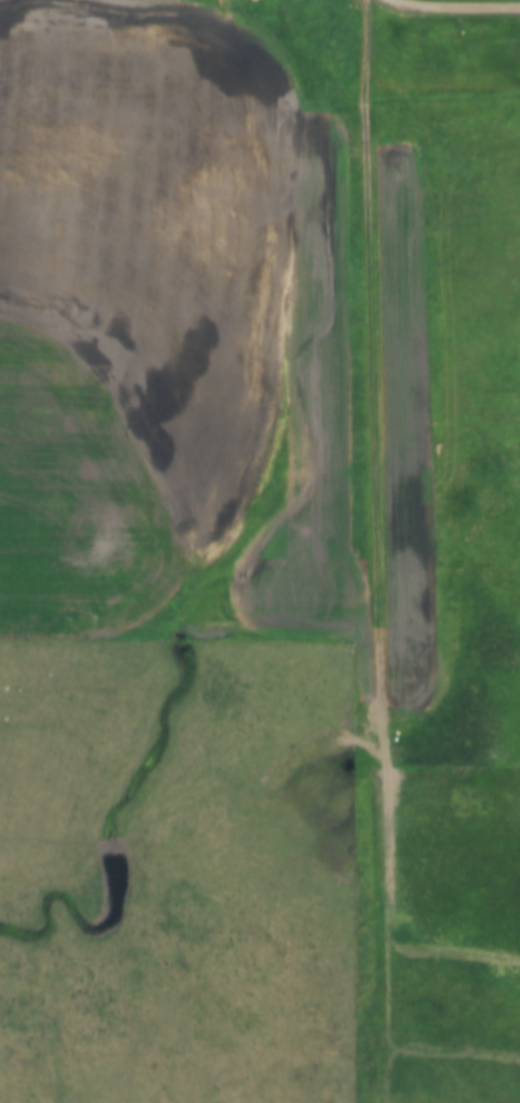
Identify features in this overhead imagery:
road: (457, 8)

